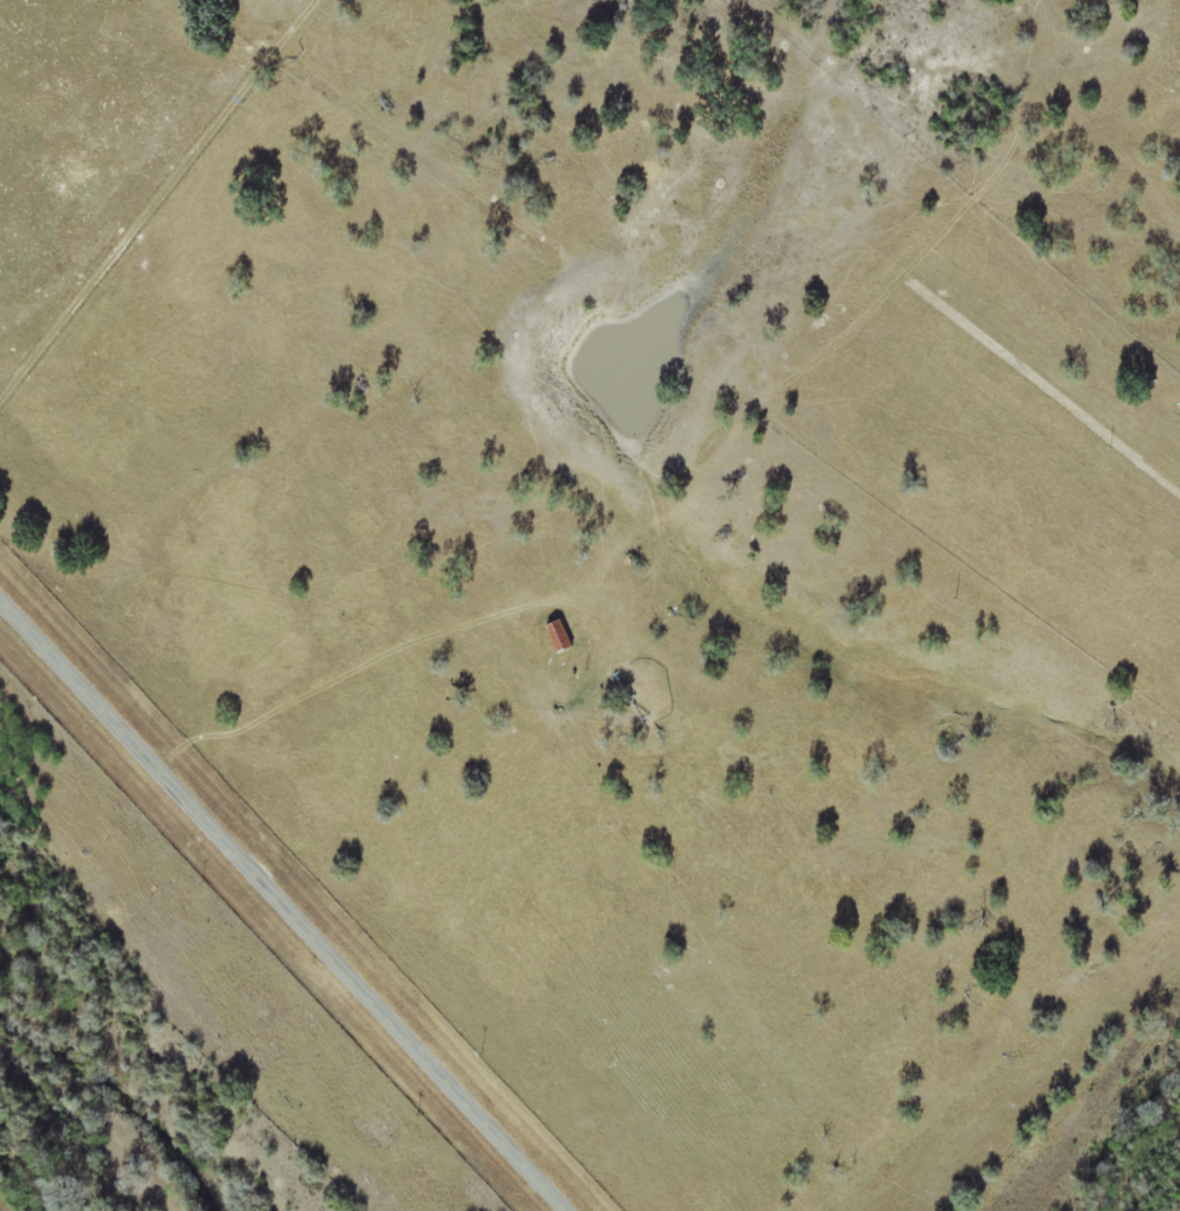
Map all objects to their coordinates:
road: (731, 474)
building: (562, 637)
road: (286, 906)

